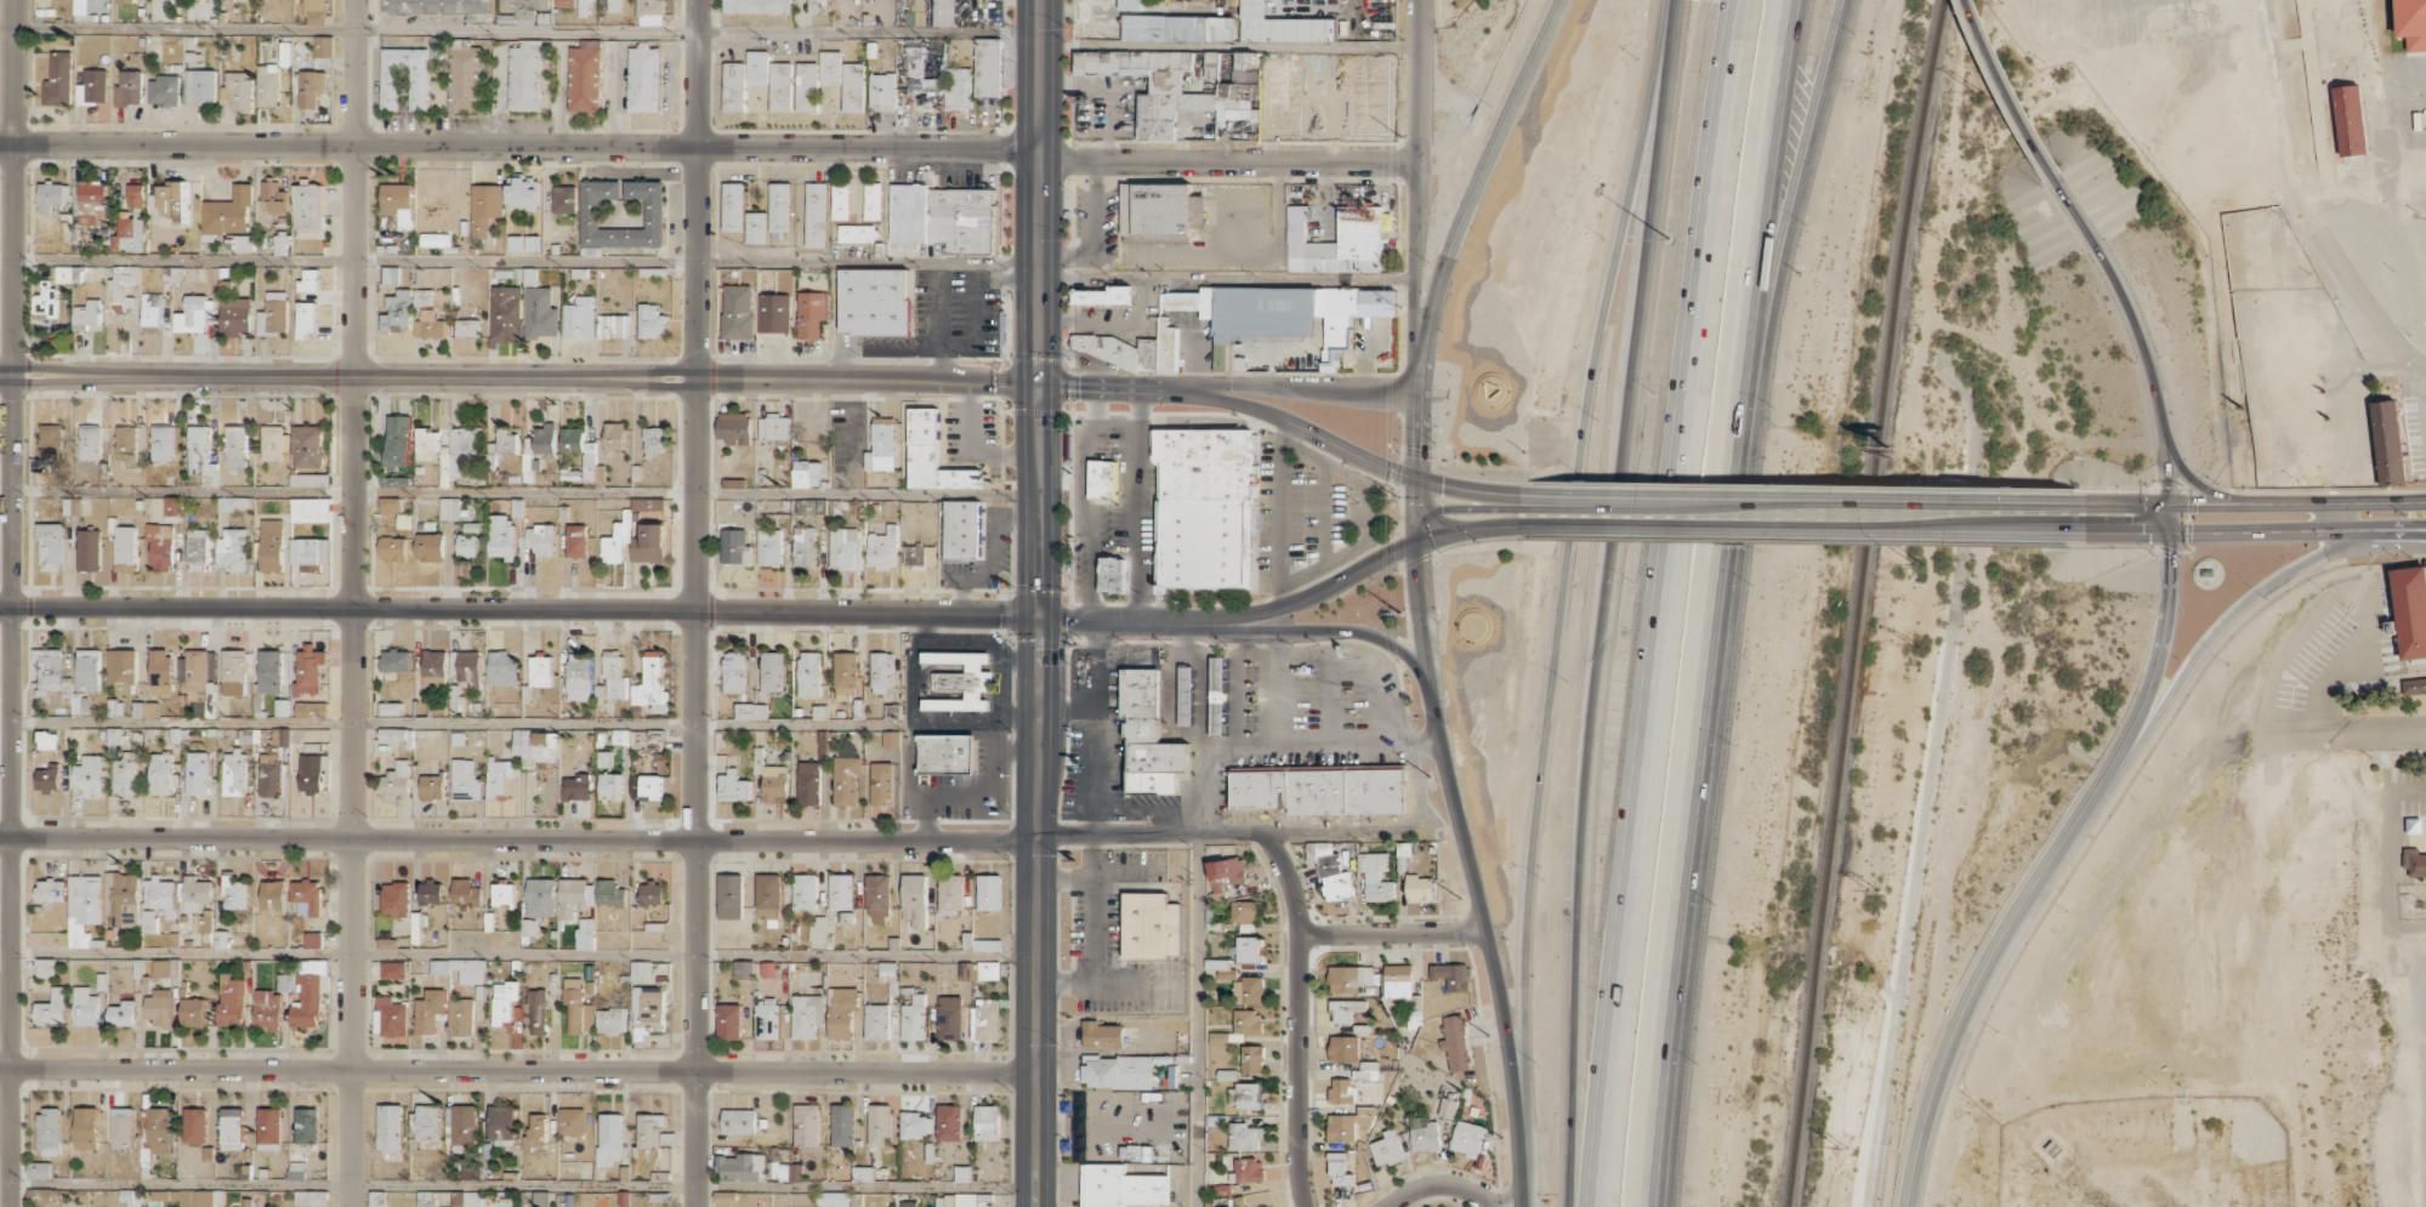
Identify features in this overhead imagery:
building: (1180, 0)
building: (1199, 0)
building: (125, 1)
building: (564, 2)
building: (614, 5)
building: (1130, 5)
building: (81, 6)
building: (437, 6)
building: (757, 6)
building: (818, 6)
building: (585, 7)
building: (524, 8)
building: (314, 11)
building: (650, 12)
building: (915, 12)
building: (944, 12)
park: (1449, 12)
building: (2411, 23)
building: (1283, 25)
building: (1178, 28)
road: (519, 32)
building: (323, 46)
road: (1229, 47)
building: (757, 67)
building: (830, 67)
building: (988, 67)
building: (1246, 67)
building: (464, 75)
building: (524, 76)
building: (585, 76)
building: (644, 78)
building: (405, 79)
building: (58, 80)
building: (941, 80)
road: (1420, 81)
building: (268, 85)
building: (200, 86)
building: (734, 86)
building: (780, 86)
building: (92, 87)
building: (311, 87)
building: (807, 87)
building: (853, 87)
building: (129, 89)
building: (164, 90)
building: (238, 90)
building: (882, 90)
road: (2009, 90)
building: (1177, 101)
building: (1238, 102)
building: (2350, 120)
road: (519, 147)
road: (1229, 160)
building: (524, 193)
building: (52, 195)
building: (135, 195)
building: (274, 197)
building: (174, 199)
building: (563, 199)
building: (840, 200)
building: (873, 200)
building: (92, 201)
building: (398, 203)
building: (307, 204)
road: (1772, 205)
road: (1791, 205)
building: (733, 206)
building: (484, 207)
building: (779, 209)
building: (1160, 209)
building: (229, 212)
building: (589, 213)
building: (816, 215)
building: (944, 217)
road: (1417, 220)
building: (756, 227)
road: (1454, 229)
building: (129, 233)
building: (858, 233)
building: (436, 239)
building: (1339, 240)
building: (240, 243)
building: (515, 243)
building: (532, 243)
building: (282, 244)
road: (708, 263)
building: (69, 274)
building: (391, 274)
building: (530, 277)
building: (309, 280)
road: (1687, 285)
building: (123, 287)
building: (1103, 296)
building: (424, 297)
building: (46, 300)
building: (875, 301)
building: (152, 309)
building: (397, 312)
building: (738, 312)
building: (540, 313)
building: (774, 313)
building: (811, 313)
building: (195, 314)
building: (273, 314)
building: (505, 314)
building: (87, 315)
building: (1284, 315)
building: (235, 317)
building: (306, 318)
building: (579, 318)
building: (652, 321)
building: (431, 325)
building: (614, 326)
building: (467, 328)
road: (1414, 336)
road: (2142, 346)
building: (1134, 349)
road: (1038, 355)
road: (518, 377)
road: (1276, 385)
traffic signals: (1038, 387)
road: (1089, 388)
road: (1280, 417)
building: (733, 427)
building: (774, 427)
building: (612, 435)
building: (545, 439)
building: (573, 439)
building: (399, 442)
building: (507, 442)
building: (654, 442)
building: (52, 443)
building: (90, 443)
building: (163, 443)
building: (272, 443)
building: (2388, 443)
building: (127, 444)
building: (427, 445)
building: (237, 446)
building: (307, 446)
building: (881, 449)
building: (201, 454)
building: (932, 455)
building: (589, 468)
building: (807, 473)
building: (570, 474)
building: (1102, 478)
building: (309, 479)
road: (2197, 483)
road: (1472, 490)
road: (519, 494)
road: (1802, 500)
traffic signals: (2169, 502)
building: (648, 503)
road: (2248, 505)
building: (72, 506)
building: (390, 506)
building: (1204, 507)
building: (172, 508)
building: (449, 509)
building: (309, 511)
road: (1797, 528)
building: (962, 530)
road: (2248, 530)
traffic signals: (2169, 533)
building: (501, 537)
building: (541, 539)
building: (576, 540)
building: (649, 543)
building: (271, 545)
building: (467, 545)
building: (805, 545)
building: (50, 546)
building: (160, 546)
building: (613, 546)
building: (393, 547)
building: (430, 547)
building: (735, 547)
building: (769, 547)
building: (126, 548)
building: (233, 548)
building: (846, 548)
building: (882, 548)
building: (89, 550)
building: (198, 550)
building: (311, 552)
building: (920, 556)
road: (1367, 567)
building: (1112, 575)
road: (1561, 591)
road: (1603, 602)
railway: (1856, 602)
road: (11, 603)
road: (353, 603)
road: (697, 603)
road: (519, 608)
building: (2410, 610)
traffic signals: (1039, 617)
road: (1124, 620)
road: (2222, 624)
road: (1326, 631)
road: (1364, 657)
building: (394, 660)
road: (1124, 660)
building: (434, 662)
road: (1095, 666)
building: (468, 668)
building: (502, 668)
building: (89, 670)
building: (121, 670)
building: (309, 670)
building: (160, 671)
building: (271, 671)
building: (540, 671)
building: (773, 671)
building: (234, 672)
building: (734, 672)
building: (846, 672)
building: (881, 672)
building: (614, 673)
building: (809, 674)
building: (57, 678)
building: (578, 678)
road: (1199, 678)
building: (960, 681)
building: (198, 682)
building: (2414, 685)
building: (650, 687)
road: (1276, 689)
building: (1217, 695)
road: (1329, 699)
road: (1169, 701)
building: (282, 707)
building: (305, 708)
building: (391, 708)
building: (144, 710)
building: (750, 711)
road: (1066, 712)
road: (449, 723)
road: (2352, 733)
building: (396, 734)
building: (114, 735)
building: (1149, 738)
building: (891, 739)
building: (46, 740)
building: (535, 745)
road: (1337, 745)
building: (945, 753)
road: (1210, 761)
building: (312, 770)
building: (198, 773)
building: (233, 773)
road: (1093, 773)
building: (90, 774)
building: (125, 774)
building: (161, 774)
building: (269, 774)
building: (49, 778)
building: (501, 778)
building: (846, 779)
building: (465, 780)
building: (397, 781)
building: (808, 782)
building: (774, 784)
building: (881, 784)
building: (610, 786)
building: (733, 786)
building: (432, 787)
building: (576, 787)
building: (650, 787)
building: (1322, 791)
road: (1694, 809)
road: (1209, 820)
road: (1379, 832)
road: (1460, 833)
road: (631, 838)
building: (1404, 848)
building: (2414, 862)
road: (2041, 869)
building: (1330, 871)
building: (1226, 875)
building: (1375, 876)
building: (1419, 888)
road: (1629, 889)
building: (51, 890)
building: (465, 892)
building: (805, 892)
building: (841, 892)
building: (197, 893)
building: (234, 893)
building: (431, 893)
building: (609, 893)
building: (652, 893)
building: (988, 893)
building: (950, 894)
building: (504, 895)
building: (125, 896)
building: (307, 896)
building: (574, 896)
building: (731, 896)
building: (768, 896)
building: (273, 898)
building: (541, 898)
building: (396, 899)
building: (879, 899)
building: (915, 899)
building: (158, 901)
building: (85, 907)
building: (1244, 911)
building: (1153, 926)
building: (528, 929)
building: (818, 929)
road: (1392, 932)
building: (585, 934)
building: (313, 939)
building: (387, 944)
building: (981, 944)
building: (1248, 949)
road: (517, 953)
road: (1036, 958)
building: (1216, 963)
building: (46, 967)
building: (165, 968)
building: (640, 968)
building: (461, 969)
building: (744, 969)
building: (394, 970)
building: (888, 970)
building: (978, 970)
building: (1451, 975)
building: (1351, 978)
building: (285, 983)
building: (1251, 990)
building: (309, 994)
building: (231, 1000)
building: (504, 1002)
building: (85, 1007)
building: (158, 1007)
building: (576, 1007)
building: (52, 1008)
building: (267, 1009)
building: (647, 1009)
building: (1345, 1009)
building: (428, 1010)
building: (193, 1012)
building: (538, 1012)
building: (842, 1012)
building: (123, 1013)
building: (807, 1015)
road: (1299, 1015)
building: (390, 1017)
building: (461, 1017)
building: (914, 1018)
building: (949, 1018)
building: (767, 1019)
building: (612, 1020)
building: (879, 1020)
building: (987, 1020)
road: (1198, 1020)
building: (729, 1021)
building: (1246, 1021)
building: (1102, 1035)
building: (1456, 1043)
building: (1343, 1048)
building: (1252, 1059)
road: (517, 1070)
building: (1368, 1070)
building: (1117, 1071)
building: (1341, 1091)
building: (1244, 1095)
building: (1447, 1108)
building: (1080, 1112)
building: (572, 1121)
building: (739, 1121)
building: (501, 1122)
building: (949, 1122)
building: (987, 1122)
building: (426, 1123)
building: (1350, 1123)
building: (195, 1125)
building: (806, 1125)
building: (842, 1125)
building: (879, 1125)
building: (916, 1125)
building: (307, 1126)
building: (460, 1126)
building: (391, 1127)
building: (86, 1128)
building: (123, 1128)
building: (232, 1128)
building: (268, 1128)
building: (49, 1131)
building: (535, 1131)
building: (155, 1135)
building: (649, 1135)
building: (1424, 1135)
building: (1244, 1137)
building: (609, 1138)
building: (1467, 1138)
building: (1387, 1149)
building: (742, 1167)
building: (783, 1167)
building: (1249, 1169)
building: (1340, 1169)
building: (39, 1171)
building: (471, 1172)
building: (865, 1173)
building: (962, 1174)
road: (1443, 1183)
road: (517, 1186)
building: (1120, 1186)
building: (159, 1195)
building: (41, 1196)
building: (725, 1196)
building: (131, 1197)
building: (195, 1197)
building: (309, 1197)
road: (1522, 1199)
building: (468, 1200)
building: (833, 1200)
building: (962, 1200)
building: (908, 1203)
building: (1222, 1206)

